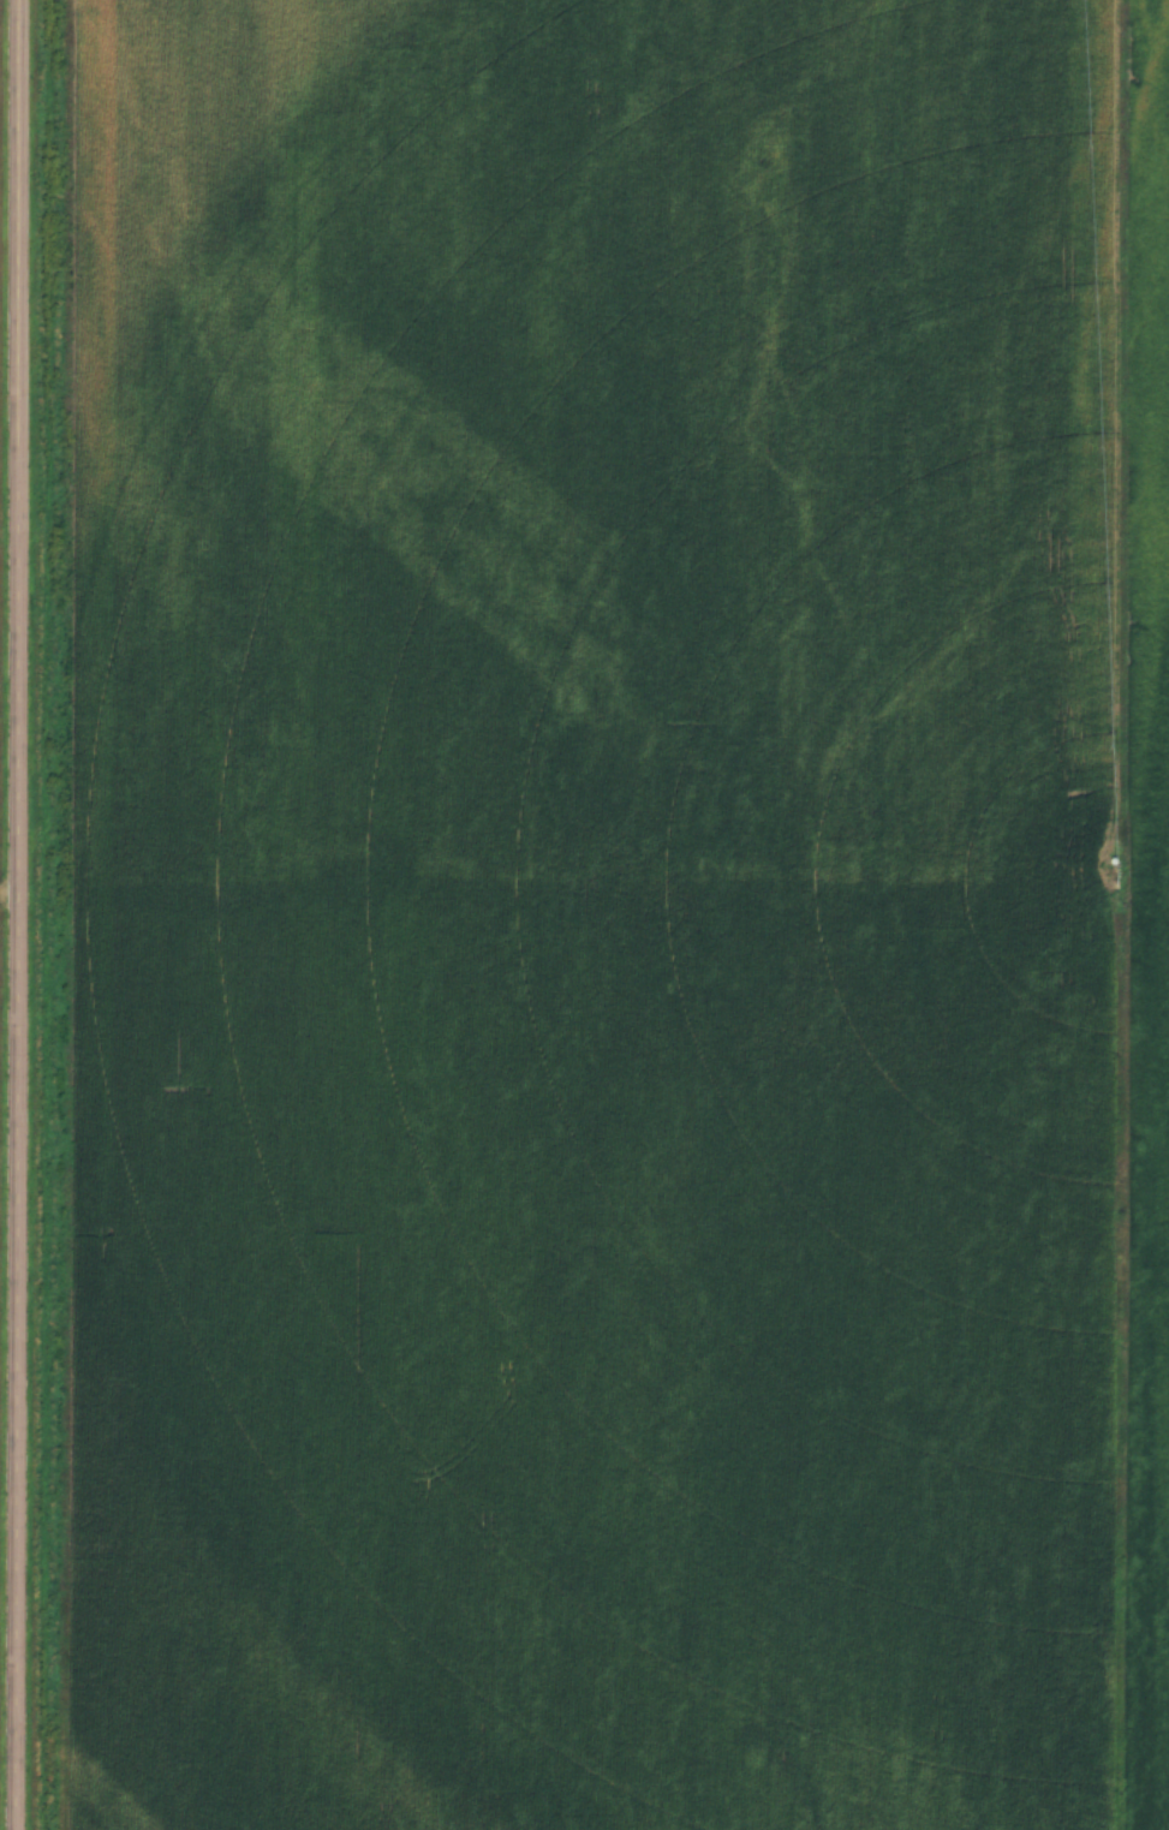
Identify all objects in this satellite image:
road: (16, 914)

